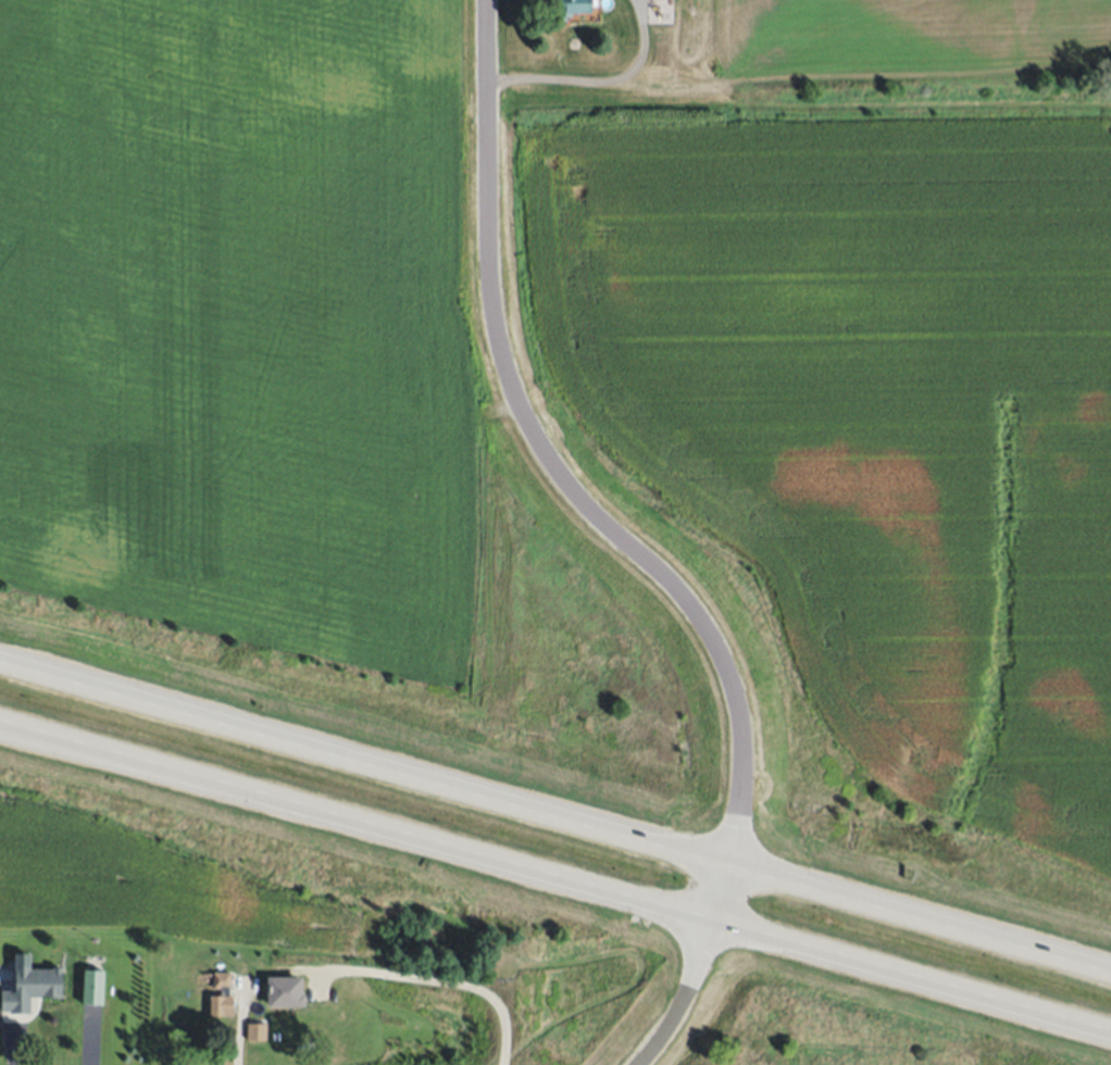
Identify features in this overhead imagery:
building: (570, 9)
road: (599, 79)
road: (624, 543)
road: (138, 770)
road: (554, 816)
road: (554, 882)
road: (458, 982)
building: (93, 987)
building: (29, 988)
building: (284, 991)
building: (221, 997)
building: (257, 1031)

